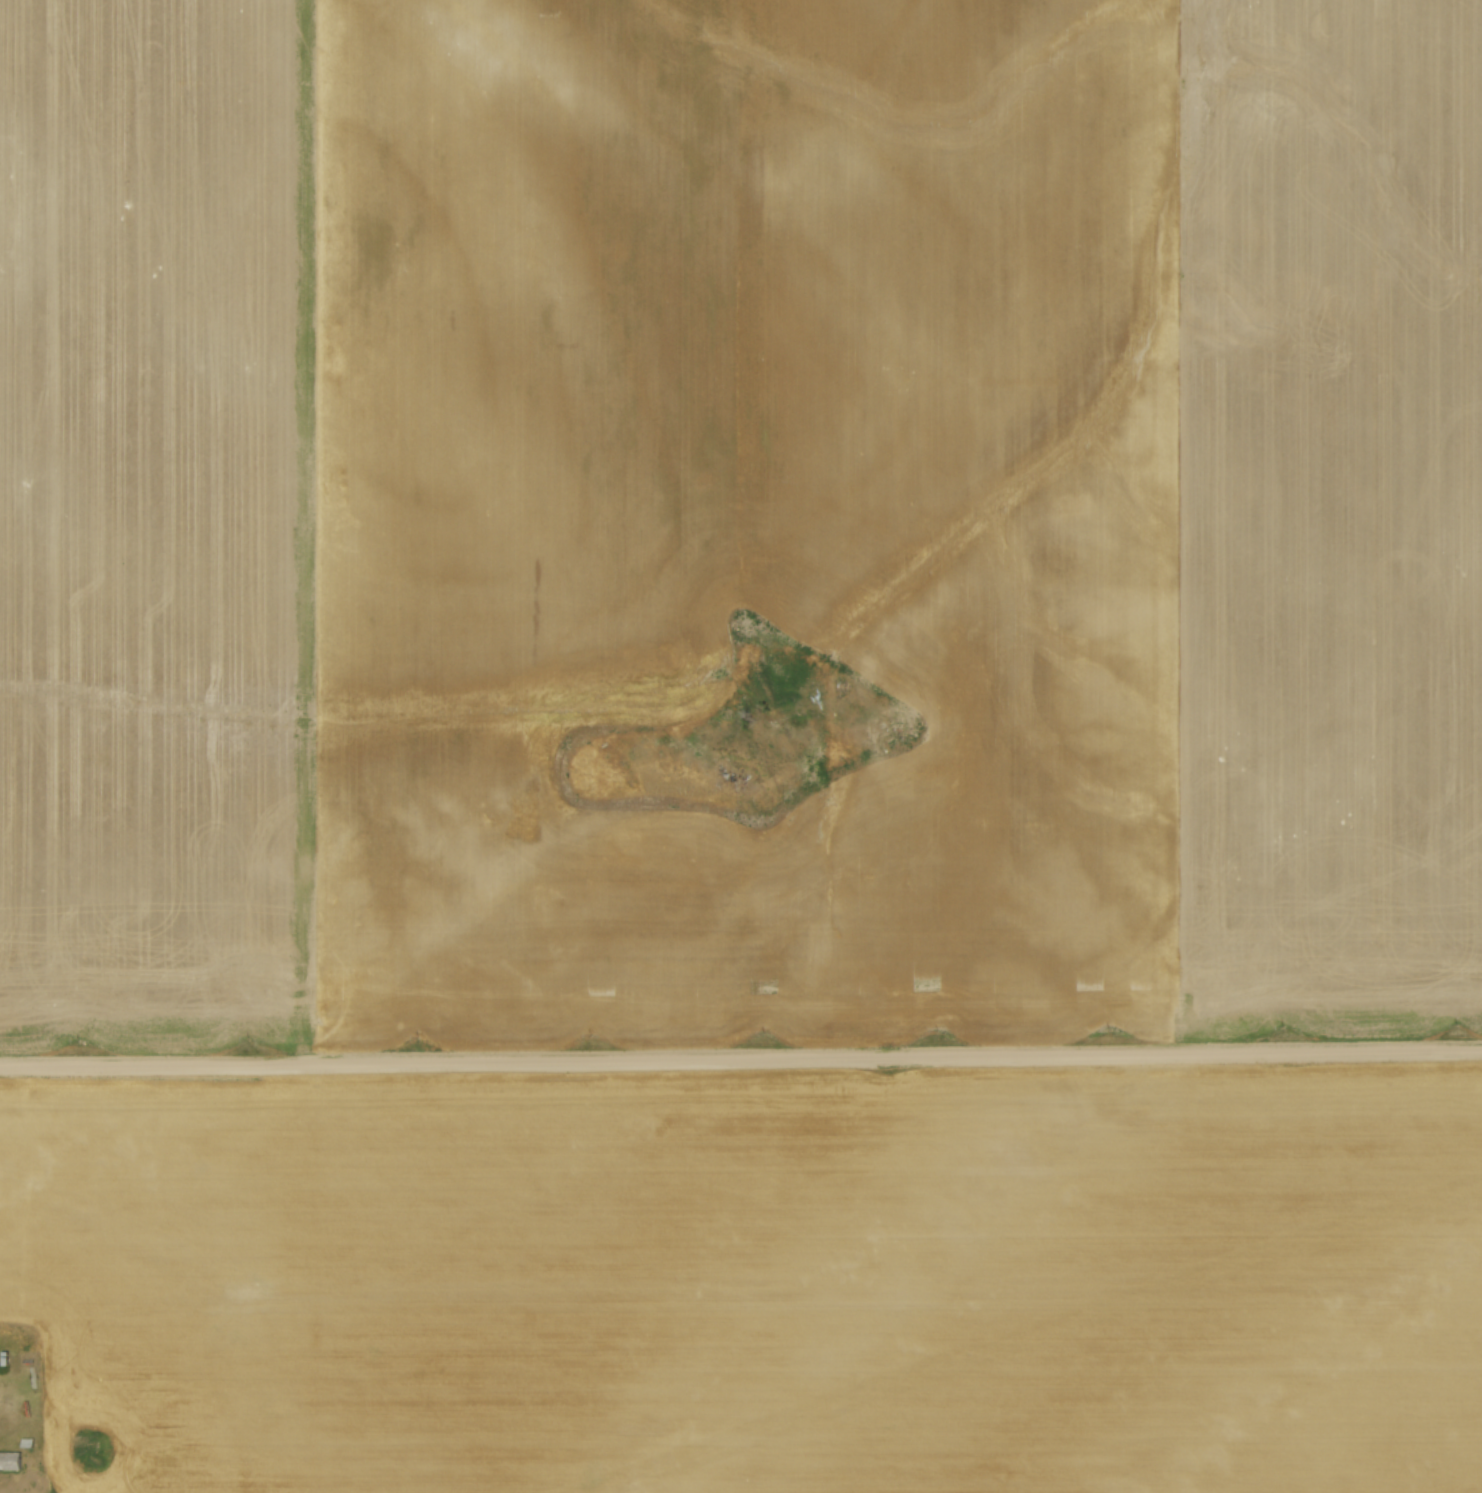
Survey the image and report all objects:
crop: (739, 519)
road: (741, 1059)
crop: (753, 1281)
building: (28, 1441)
building: (10, 1461)

